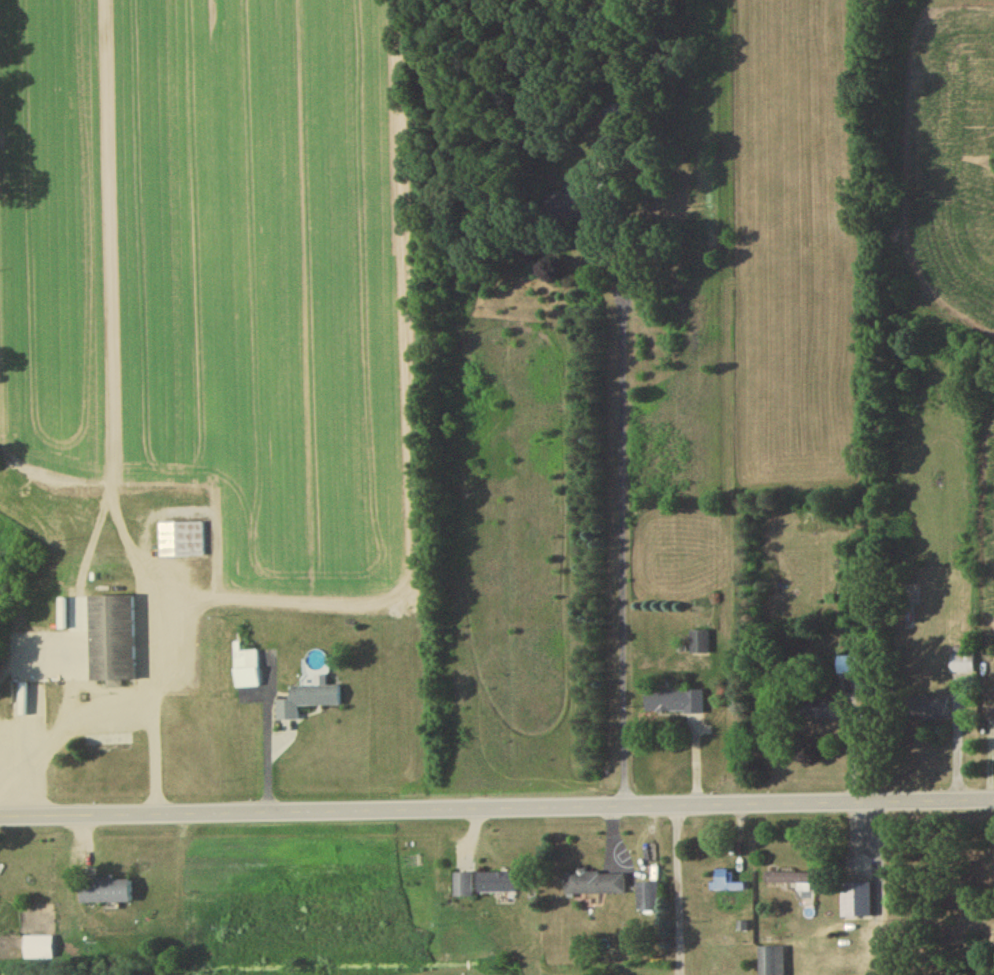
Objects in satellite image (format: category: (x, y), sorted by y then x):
road: (624, 474)
building: (183, 542)
building: (113, 641)
building: (700, 644)
building: (962, 664)
building: (849, 668)
building: (248, 672)
road: (156, 697)
building: (316, 698)
building: (675, 704)
building: (929, 709)
building: (825, 712)
road: (63, 735)
road: (268, 744)
road: (497, 811)
building: (793, 881)
building: (722, 883)
building: (497, 885)
building: (595, 885)
building: (463, 887)
road: (680, 891)
building: (106, 893)
building: (649, 899)
building: (857, 902)
building: (38, 950)
building: (772, 962)

